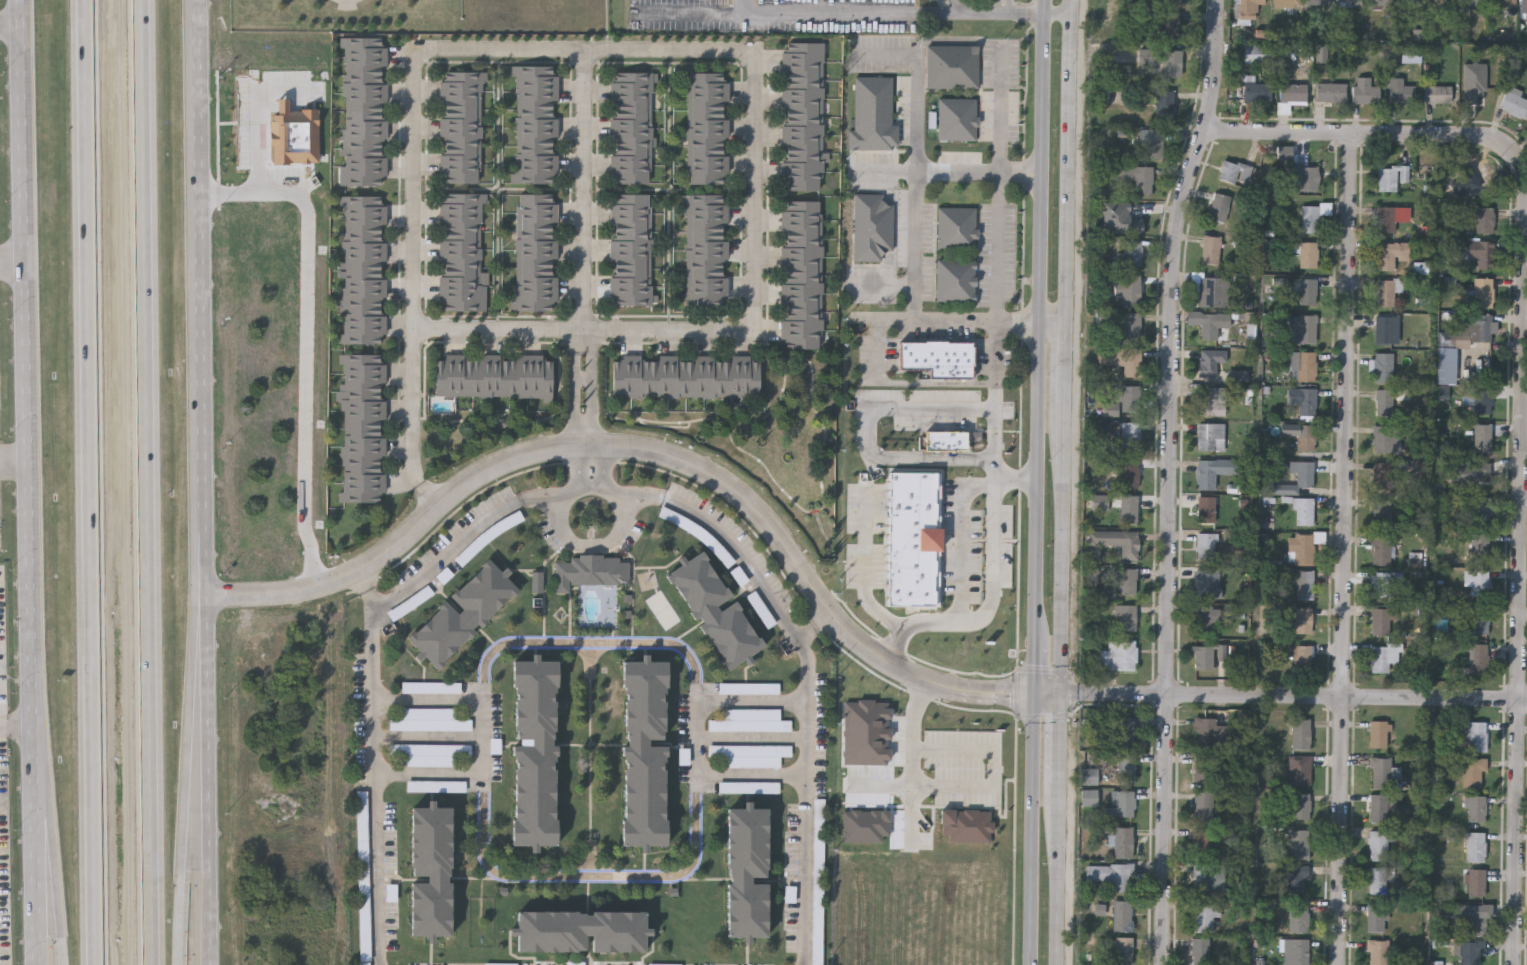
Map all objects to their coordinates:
parking lot: (989, 1)
building: (1317, 1)
building: (1348, 1)
building: (1379, 1)
building: (1172, 2)
building: (1286, 2)
building: (1409, 2)
building: (1473, 2)
building: (1504, 2)
building: (1441, 3)
road: (997, 5)
building: (1523, 5)
road: (954, 6)
road: (1011, 6)
road: (689, 11)
road: (822, 11)
road: (992, 12)
park: (346, 14)
building: (1172, 24)
road: (10, 25)
road: (951, 43)
road: (585, 49)
building: (802, 52)
building: (1257, 53)
building: (1410, 53)
road: (886, 55)
parking lot: (880, 57)
building: (1164, 59)
parking lot: (1001, 66)
building: (952, 69)
building: (802, 71)
building: (536, 75)
building: (461, 80)
building: (631, 81)
building: (708, 82)
building: (802, 89)
building: (1255, 89)
building: (1364, 90)
building: (1400, 90)
building: (1329, 91)
building: (1291, 93)
building: (1437, 93)
building: (536, 95)
building: (461, 99)
building: (631, 100)
building: (708, 100)
building: (1515, 101)
building: (1163, 103)
building: (802, 108)
building: (363, 110)
building: (536, 115)
building: (461, 118)
building: (630, 118)
building: (708, 119)
parking lot: (1000, 121)
building: (802, 126)
building: (956, 126)
building: (535, 134)
building: (460, 136)
building: (631, 137)
building: (708, 138)
building: (1153, 142)
road: (258, 144)
building: (802, 145)
building: (535, 154)
building: (460, 155)
building: (630, 155)
building: (708, 156)
road: (1069, 161)
building: (802, 163)
building: (1234, 171)
building: (535, 173)
road: (883, 173)
building: (460, 174)
building: (630, 174)
road: (981, 174)
building: (708, 175)
building: (1133, 175)
building: (1304, 176)
building: (1387, 178)
building: (1473, 180)
building: (802, 182)
parking lot: (872, 183)
road: (916, 186)
road: (756, 188)
building: (536, 203)
building: (630, 203)
building: (706, 203)
building: (1219, 205)
building: (801, 209)
road: (1000, 210)
building: (1309, 217)
building: (1387, 219)
building: (1484, 219)
building: (630, 221)
building: (706, 222)
building: (537, 223)
building: (872, 227)
building: (801, 228)
building: (957, 228)
parking lot: (902, 232)
building: (630, 240)
building: (706, 241)
building: (536, 242)
building: (801, 247)
building: (1210, 248)
road: (588, 249)
building: (1132, 250)
building: (462, 253)
building: (1390, 253)
building: (1482, 253)
parking lot: (929, 254)
building: (1308, 254)
parking lot: (998, 257)
building: (630, 258)
building: (706, 259)
road: (12, 261)
building: (536, 262)
building: (801, 265)
building: (364, 271)
building: (630, 277)
building: (706, 277)
building: (956, 281)
building: (535, 282)
building: (801, 284)
road: (414, 285)
parking lot: (871, 286)
road: (881, 286)
building: (1127, 290)
building: (1212, 290)
building: (1307, 290)
building: (1385, 291)
building: (1482, 291)
building: (630, 296)
building: (707, 296)
building: (536, 302)
building: (801, 303)
building: (801, 321)
road: (943, 324)
building: (1211, 324)
building: (1127, 326)
building: (1478, 326)
building: (1302, 328)
building: (1384, 328)
road: (584, 330)
road: (305, 338)
building: (801, 340)
road: (1041, 347)
building: (938, 358)
parking lot: (876, 359)
building: (1125, 359)
building: (1210, 360)
parking lot: (996, 362)
building: (1481, 362)
building: (1305, 365)
road: (1066, 366)
building: (1383, 366)
building: (493, 375)
building: (685, 375)
road: (939, 384)
building: (1130, 397)
building: (1482, 399)
building: (1211, 400)
building: (1305, 401)
building: (1384, 401)
road: (1522, 401)
road: (26, 407)
building: (363, 427)
road: (872, 429)
building: (1129, 434)
building: (1210, 436)
building: (1482, 436)
building: (1385, 438)
building: (947, 441)
road: (649, 453)
road: (14, 461)
road: (1018, 463)
road: (588, 467)
building: (1213, 470)
building: (1128, 472)
building: (1305, 472)
building: (1381, 474)
road: (1167, 479)
road: (90, 482)
road: (148, 482)
road: (206, 482)
building: (1129, 507)
building: (1205, 508)
building: (1303, 510)
building: (1481, 510)
building: (1381, 511)
building: (914, 538)
road: (964, 540)
building: (1116, 540)
building: (1205, 545)
building: (1478, 546)
building: (1304, 547)
building: (1379, 548)
road: (592, 549)
road: (1344, 549)
parking lot: (731, 552)
road: (1066, 552)
road: (993, 561)
road: (864, 567)
building: (592, 572)
building: (1128, 580)
building: (1477, 581)
building: (1207, 582)
building: (1304, 583)
building: (1382, 584)
building: (715, 610)
building: (762, 612)
building: (465, 614)
building: (1125, 617)
building: (1206, 617)
building: (1303, 619)
building: (1480, 619)
building: (1380, 621)
road: (592, 646)
building: (1122, 654)
building: (1383, 655)
building: (1201, 657)
building: (1300, 658)
building: (1478, 658)
road: (373, 662)
road: (808, 662)
building: (410, 689)
building: (730, 690)
traffic signals: (1037, 695)
road: (1052, 695)
traffic signals: (1067, 695)
road: (1297, 698)
building: (429, 723)
building: (751, 723)
road: (17, 727)
building: (1124, 731)
building: (1205, 732)
building: (1300, 734)
building: (1378, 734)
building: (1476, 735)
parking lot: (818, 737)
parking lot: (450, 738)
road: (700, 738)
road: (1066, 739)
road: (429, 740)
road: (484, 740)
parking lot: (733, 740)
road: (754, 740)
road: (583, 746)
building: (534, 756)
building: (643, 756)
building: (426, 757)
building: (751, 757)
road: (915, 761)
road: (592, 762)
building: (1126, 767)
road: (994, 769)
building: (1203, 769)
building: (1301, 769)
building: (1381, 771)
building: (1473, 771)
building: (1089, 775)
road: (189, 779)
building: (749, 789)
building: (1120, 803)
building: (1300, 805)
building: (1202, 806)
building: (1378, 806)
building: (1474, 807)
parking lot: (363, 813)
road: (1034, 830)
building: (363, 839)
building: (1118, 839)
parking lot: (389, 841)
building: (1202, 842)
building: (1298, 843)
building: (1378, 843)
building: (1475, 846)
building: (432, 871)
road: (1063, 874)
building: (746, 875)
building: (1110, 875)
building: (1204, 877)
road: (591, 878)
building: (1296, 879)
building: (1377, 879)
parking lot: (806, 880)
building: (1475, 881)
building: (818, 883)
road: (38, 889)
road: (50, 889)
building: (1204, 914)
building: (1122, 915)
building: (1376, 915)
building: (1296, 916)
parking lot: (391, 918)
building: (1473, 919)
building: (582, 932)
building: (1122, 950)
building: (1200, 950)
building: (1297, 950)
building: (1378, 952)
building: (1470, 953)
parking lot: (449, 964)

